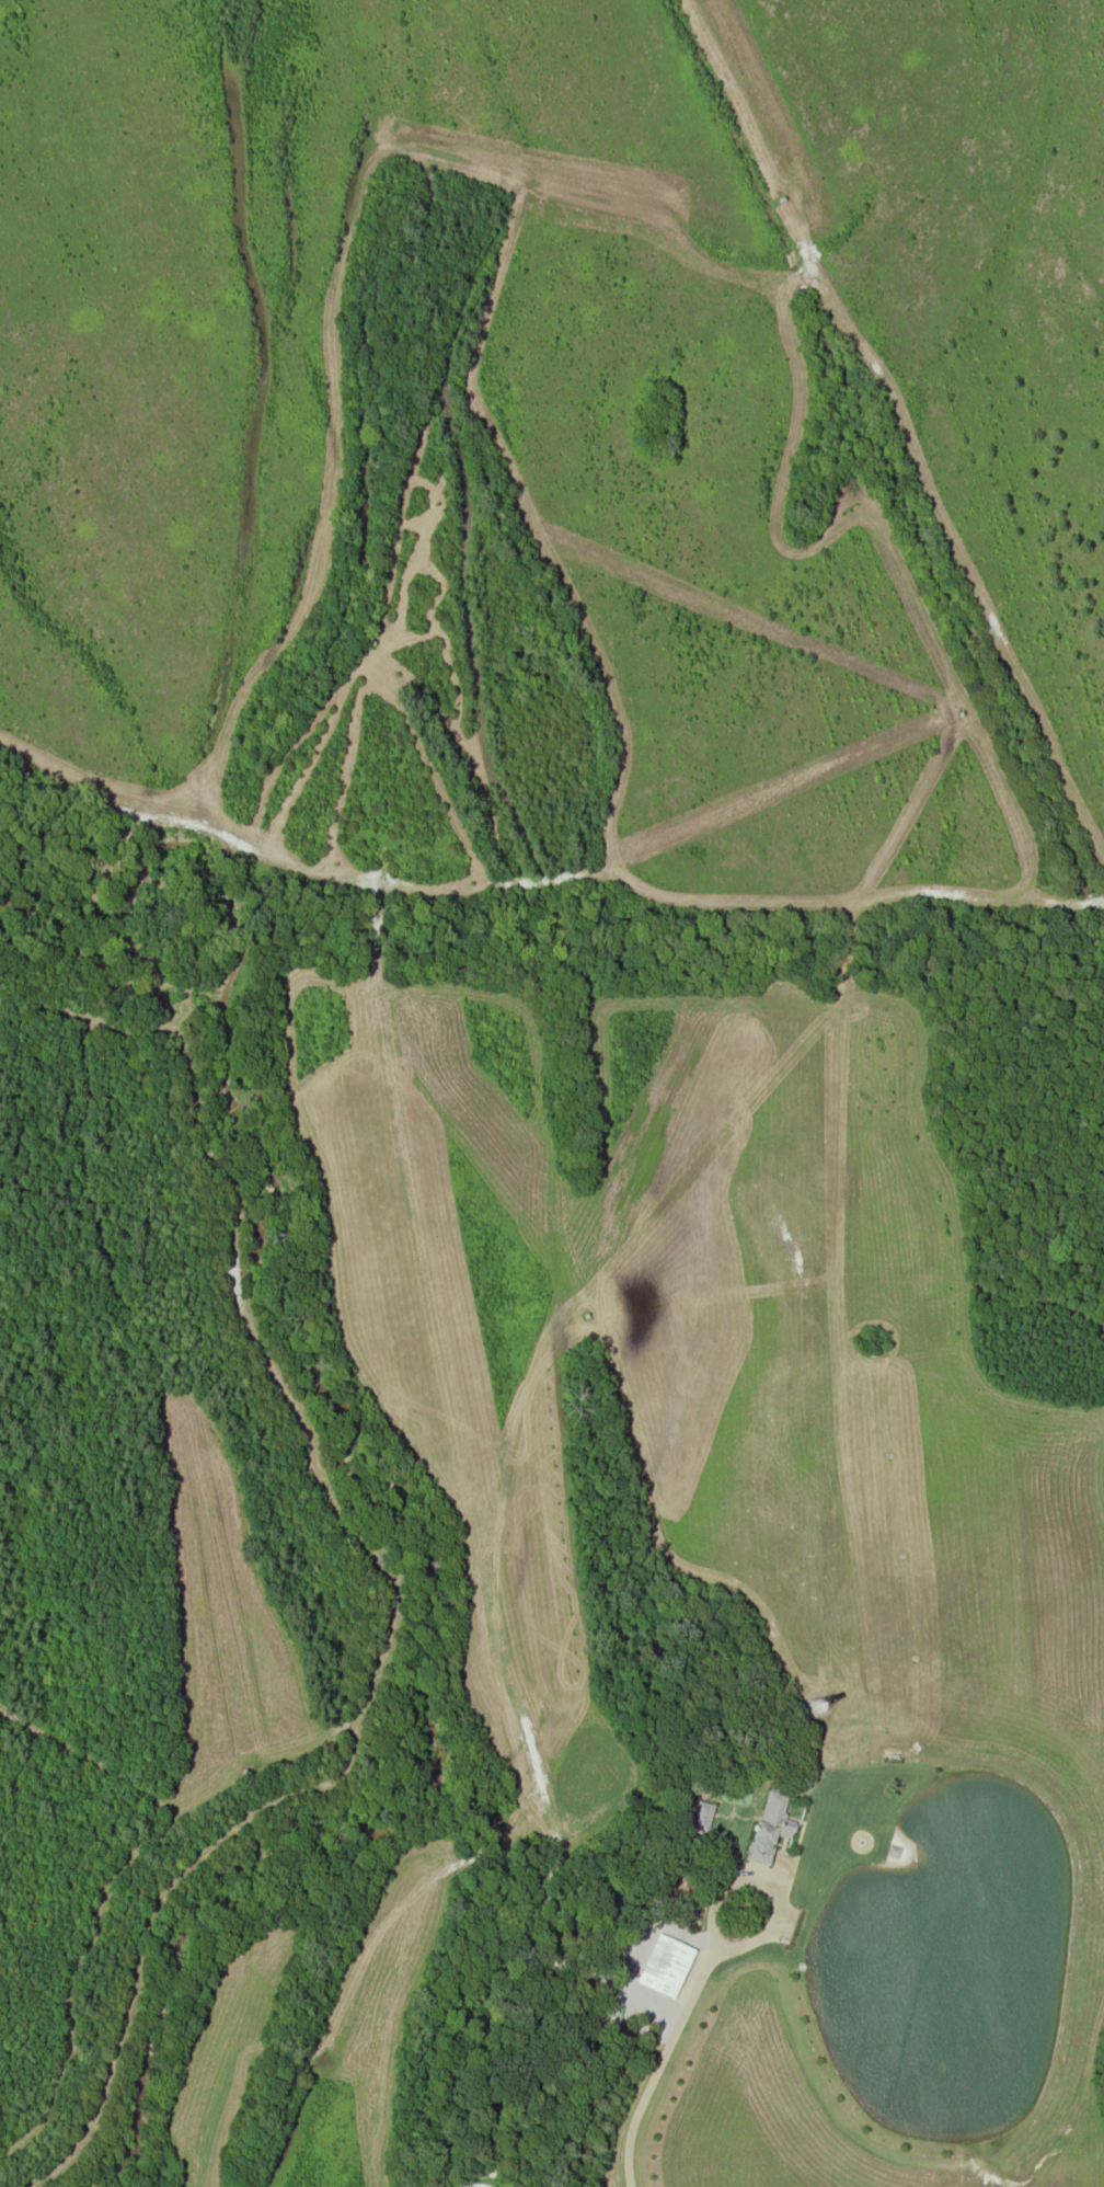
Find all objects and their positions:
building: (697, 1816)
building: (770, 1823)

